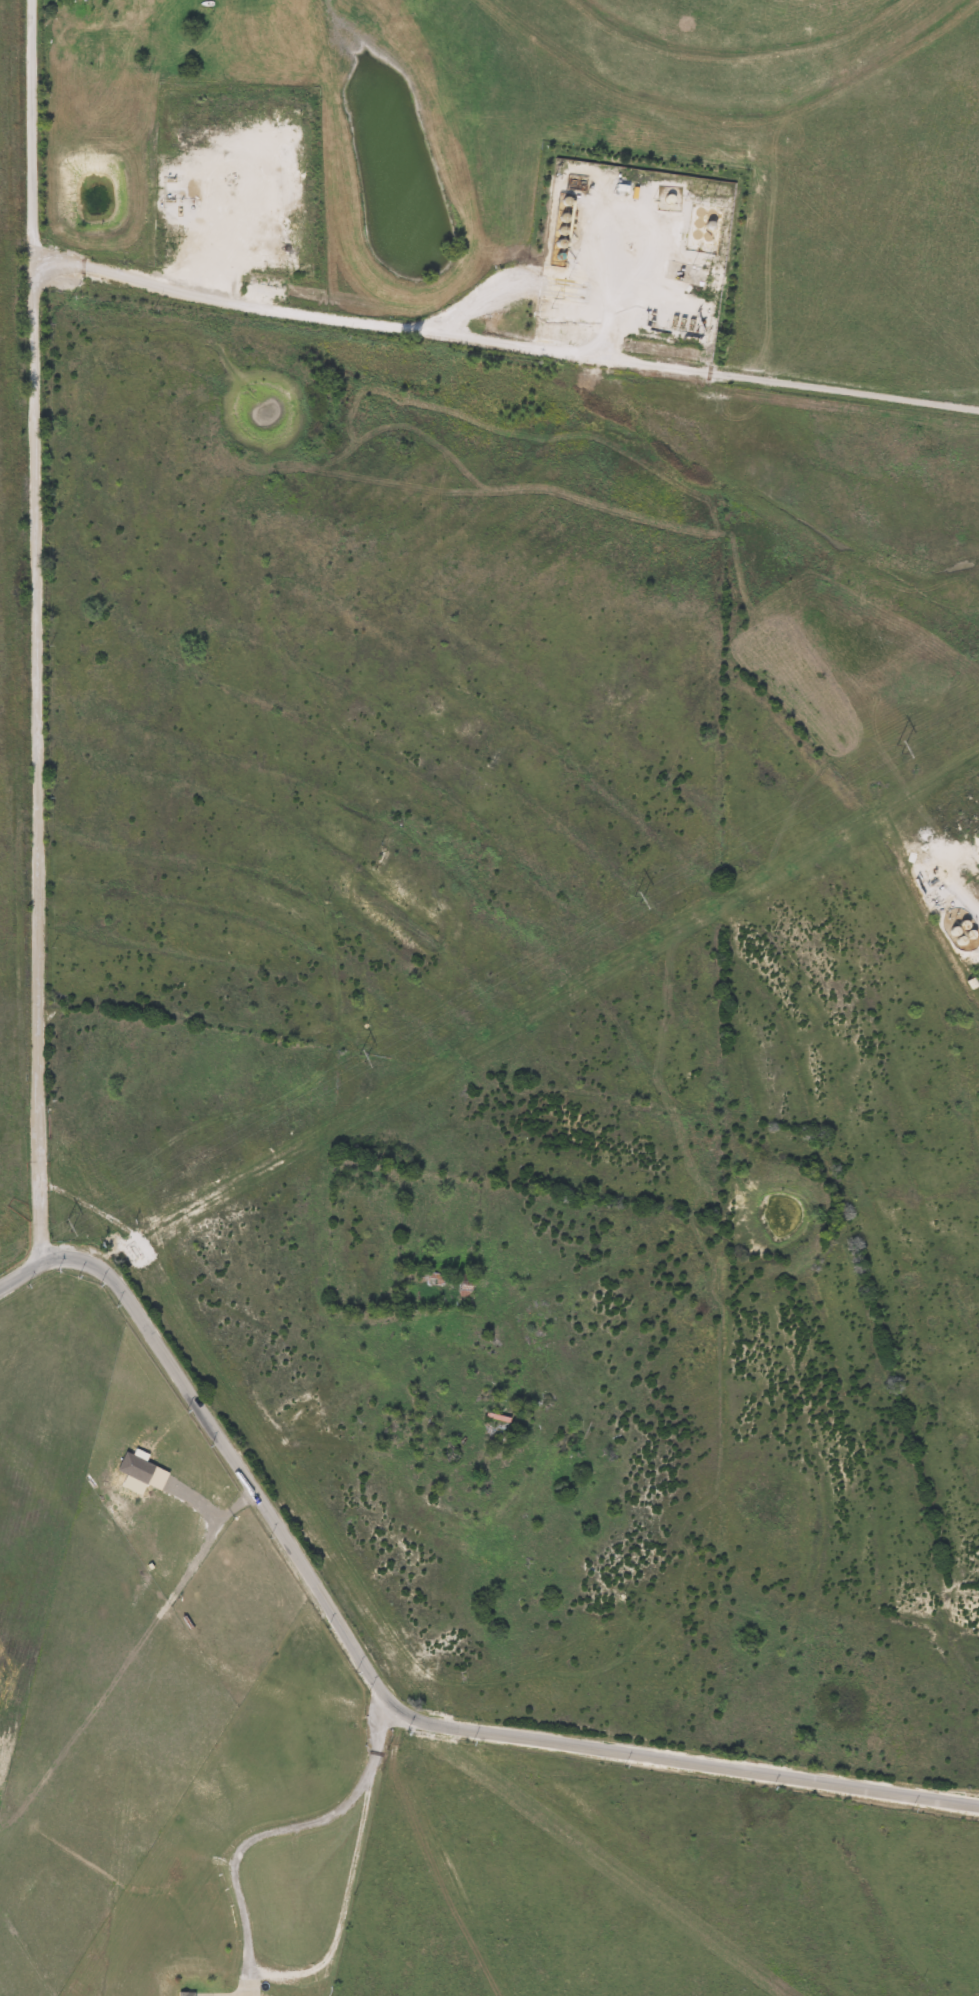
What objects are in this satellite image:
building: (67, 50)
road: (502, 341)
road: (33, 628)
building: (430, 1279)
building: (496, 1420)
road: (206, 1508)
road: (379, 1690)
road: (245, 1919)
building: (186, 1994)

